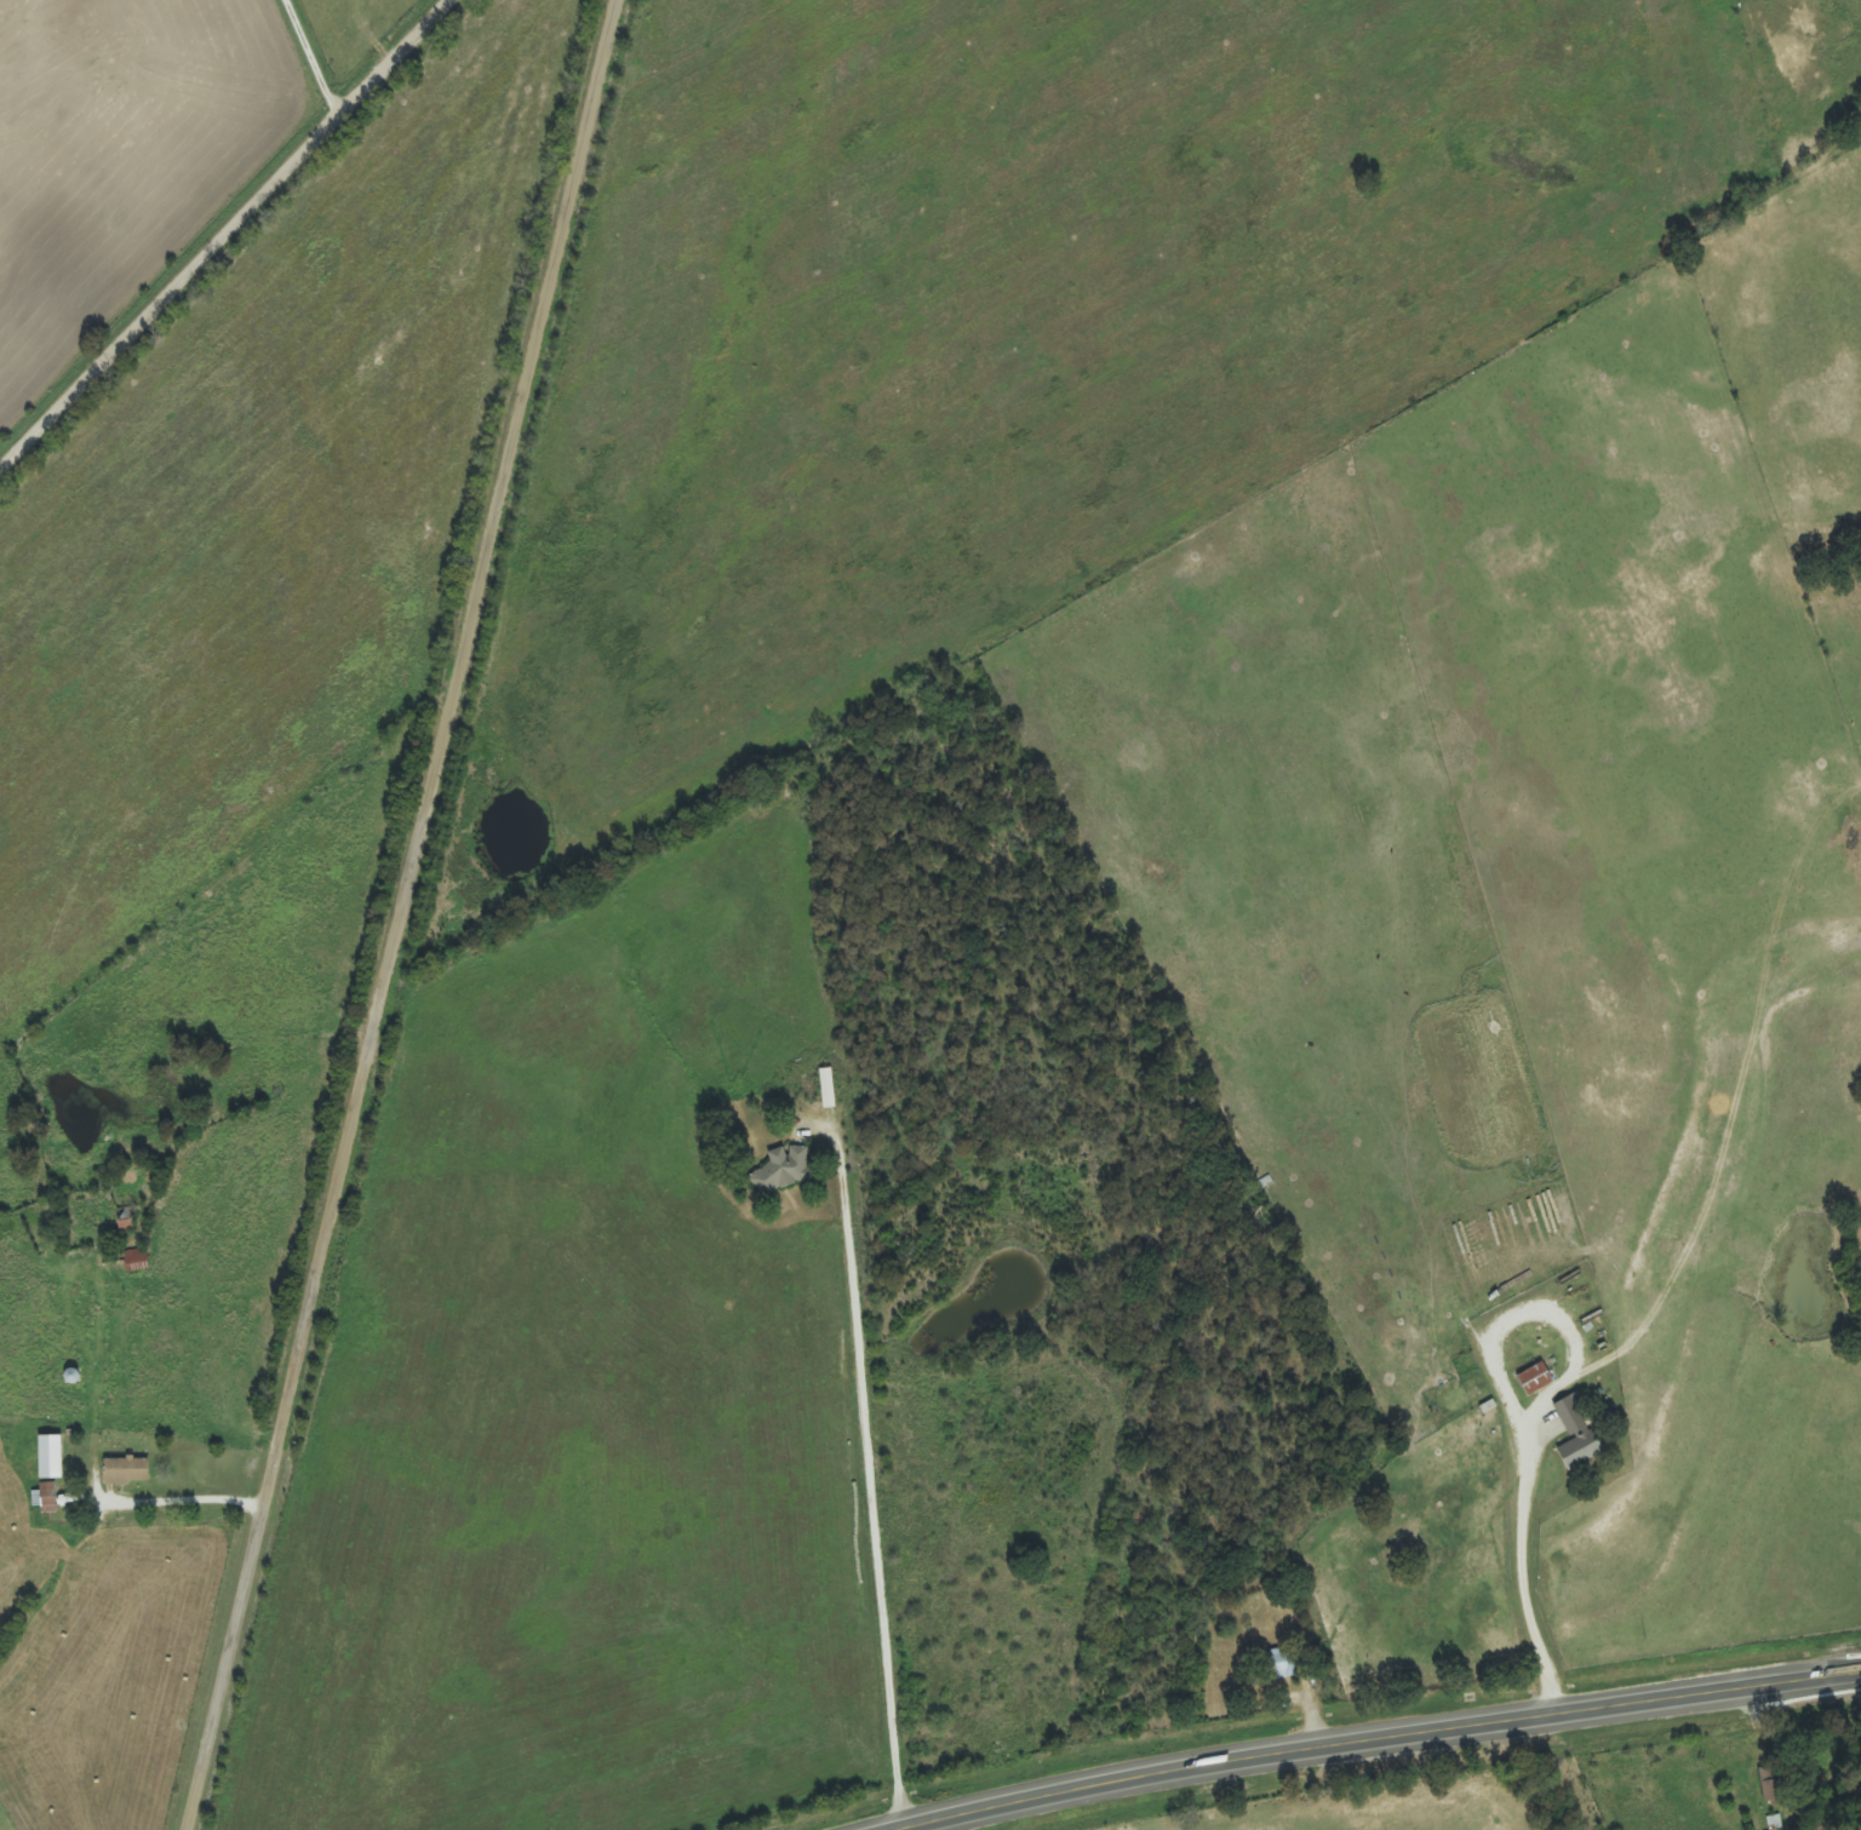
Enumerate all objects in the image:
road: (229, 239)
road: (410, 914)
building: (825, 1089)
building: (779, 1172)
building: (124, 1227)
road: (1613, 1292)
building: (1533, 1379)
building: (1574, 1434)
building: (46, 1458)
building: (124, 1472)
building: (1282, 1664)
road: (1398, 1752)

